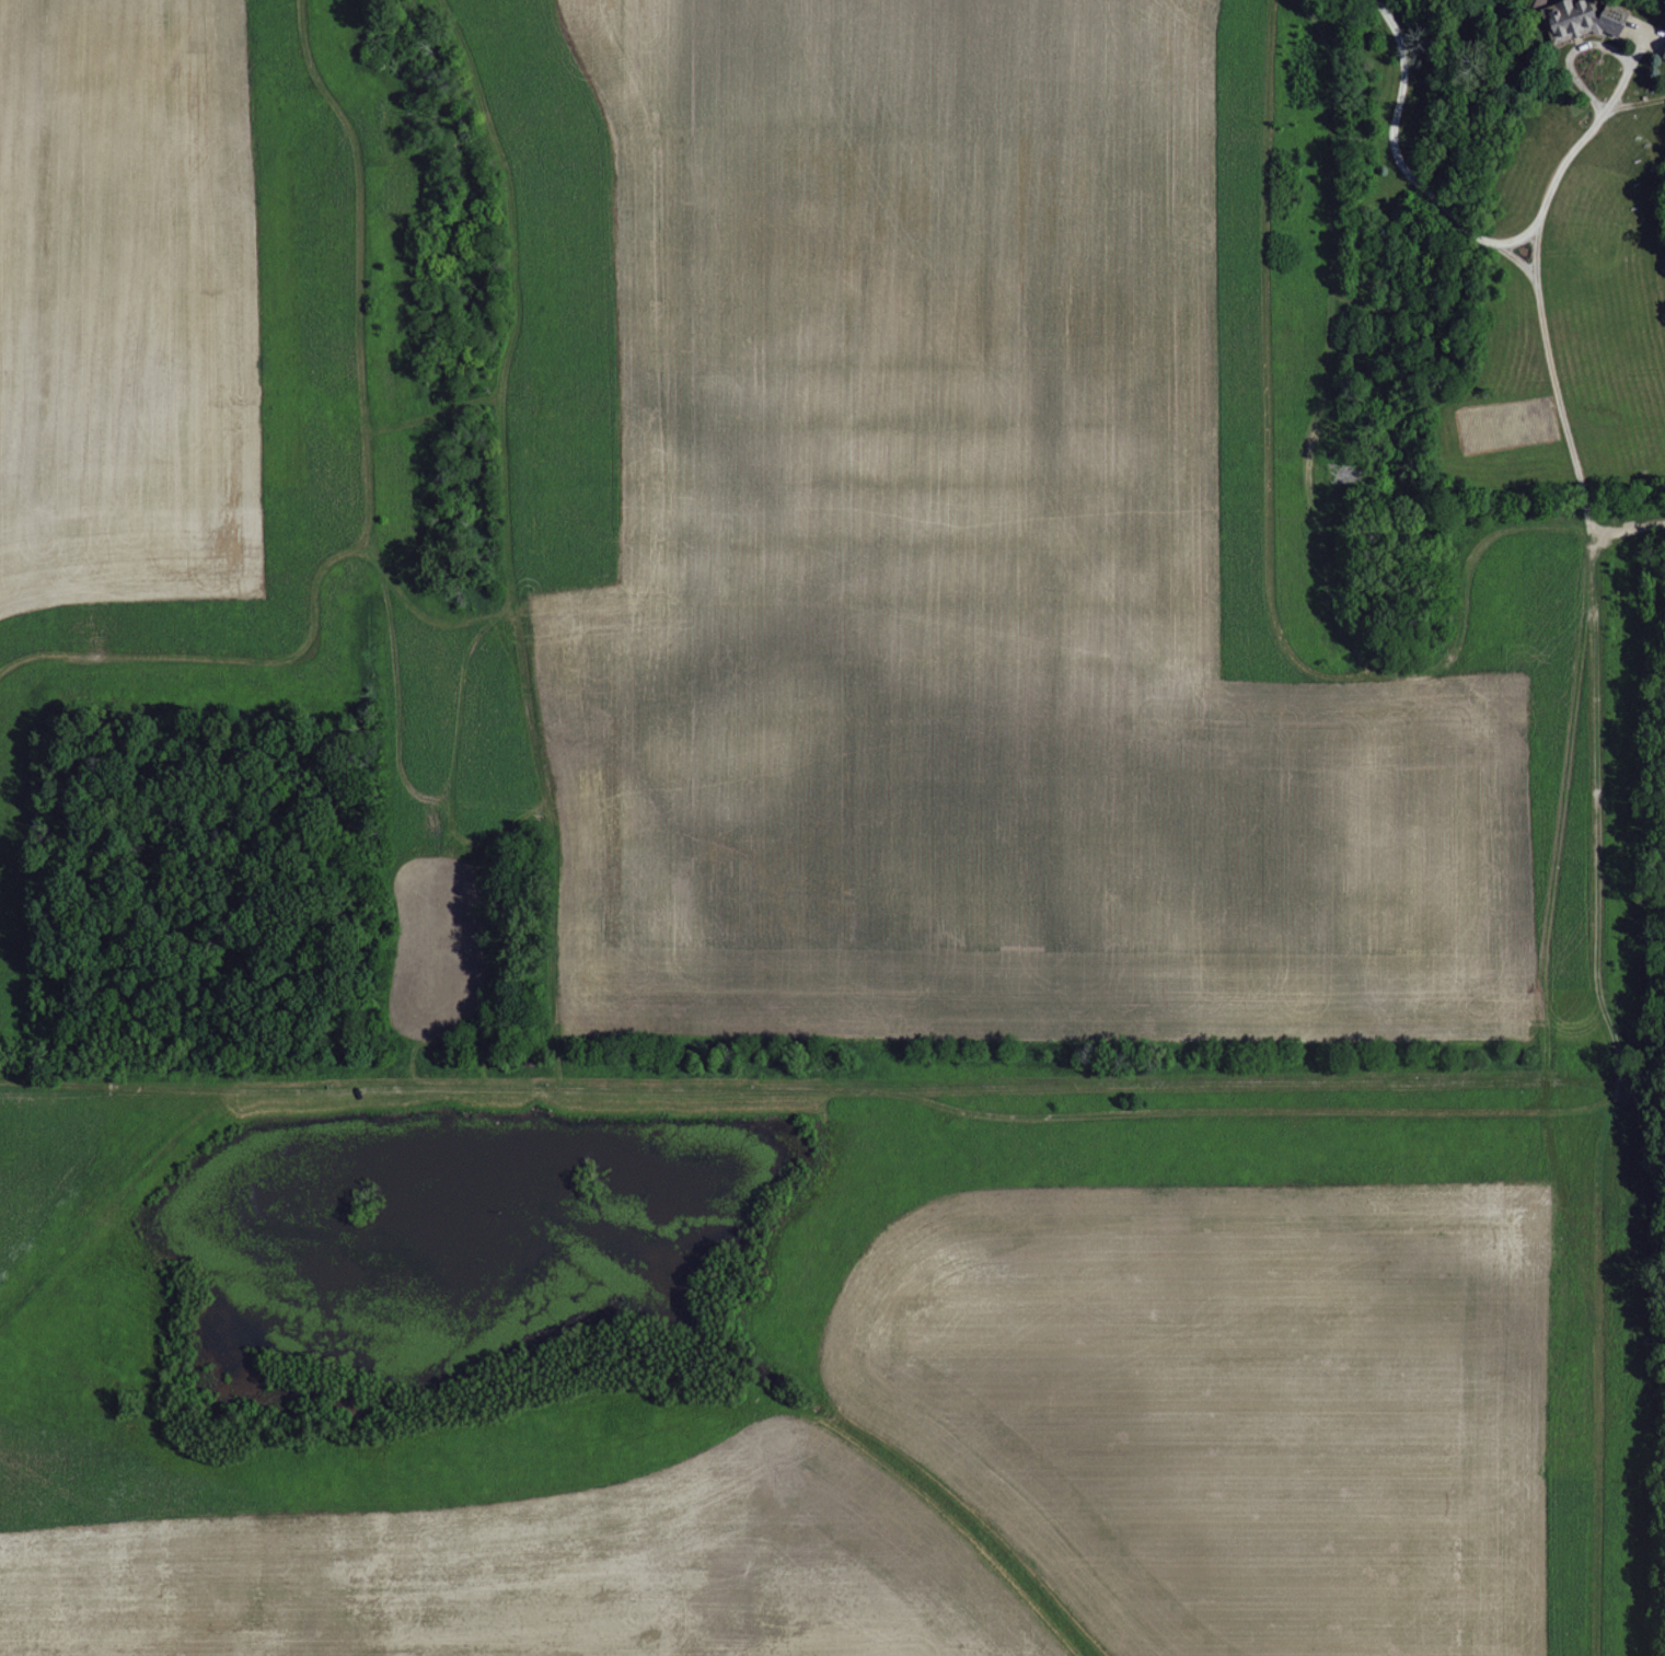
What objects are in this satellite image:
road: (1624, 80)
road: (1523, 235)
road: (1539, 252)
road: (1524, 269)

